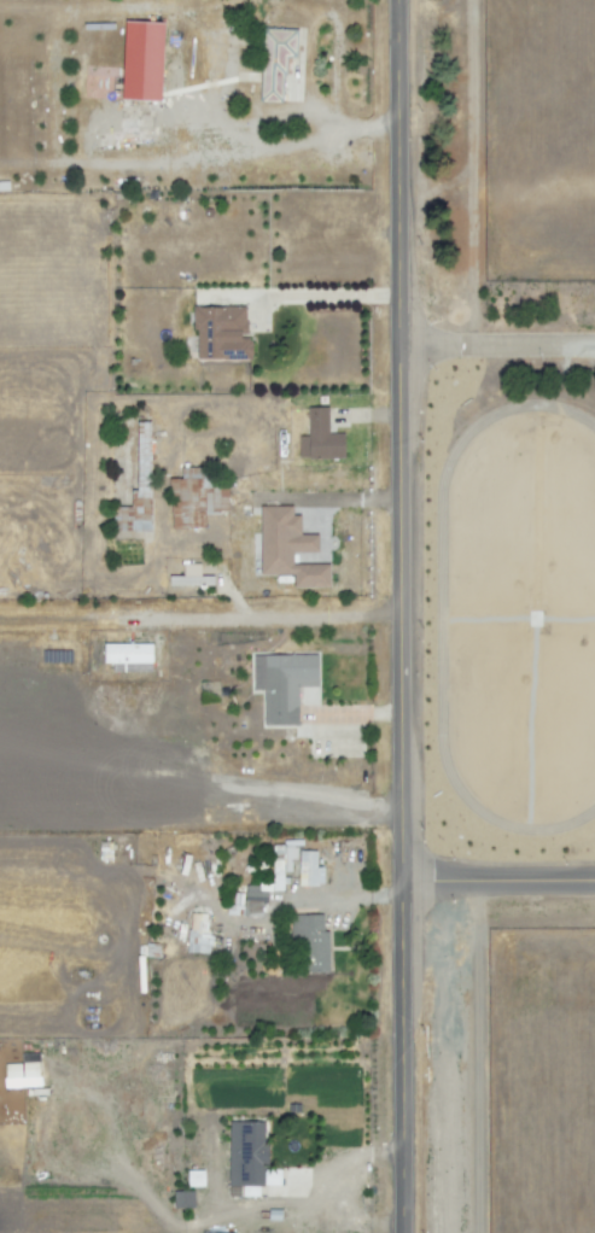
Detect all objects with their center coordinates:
building: (141, 60)
building: (280, 62)
road: (280, 118)
road: (473, 173)
road: (321, 294)
building: (221, 333)
road: (501, 346)
road: (380, 416)
building: (328, 436)
building: (136, 493)
building: (202, 497)
building: (287, 548)
building: (198, 572)
road: (402, 616)
road: (200, 619)
building: (128, 658)
building: (282, 684)
road: (354, 713)
building: (282, 861)
building: (313, 867)
road: (502, 882)
road: (355, 895)
building: (261, 896)
building: (198, 934)
building: (316, 943)
road: (477, 1058)
building: (22, 1073)
building: (256, 1152)
road: (354, 1164)
building: (194, 1179)
road: (134, 1187)
building: (182, 1199)

